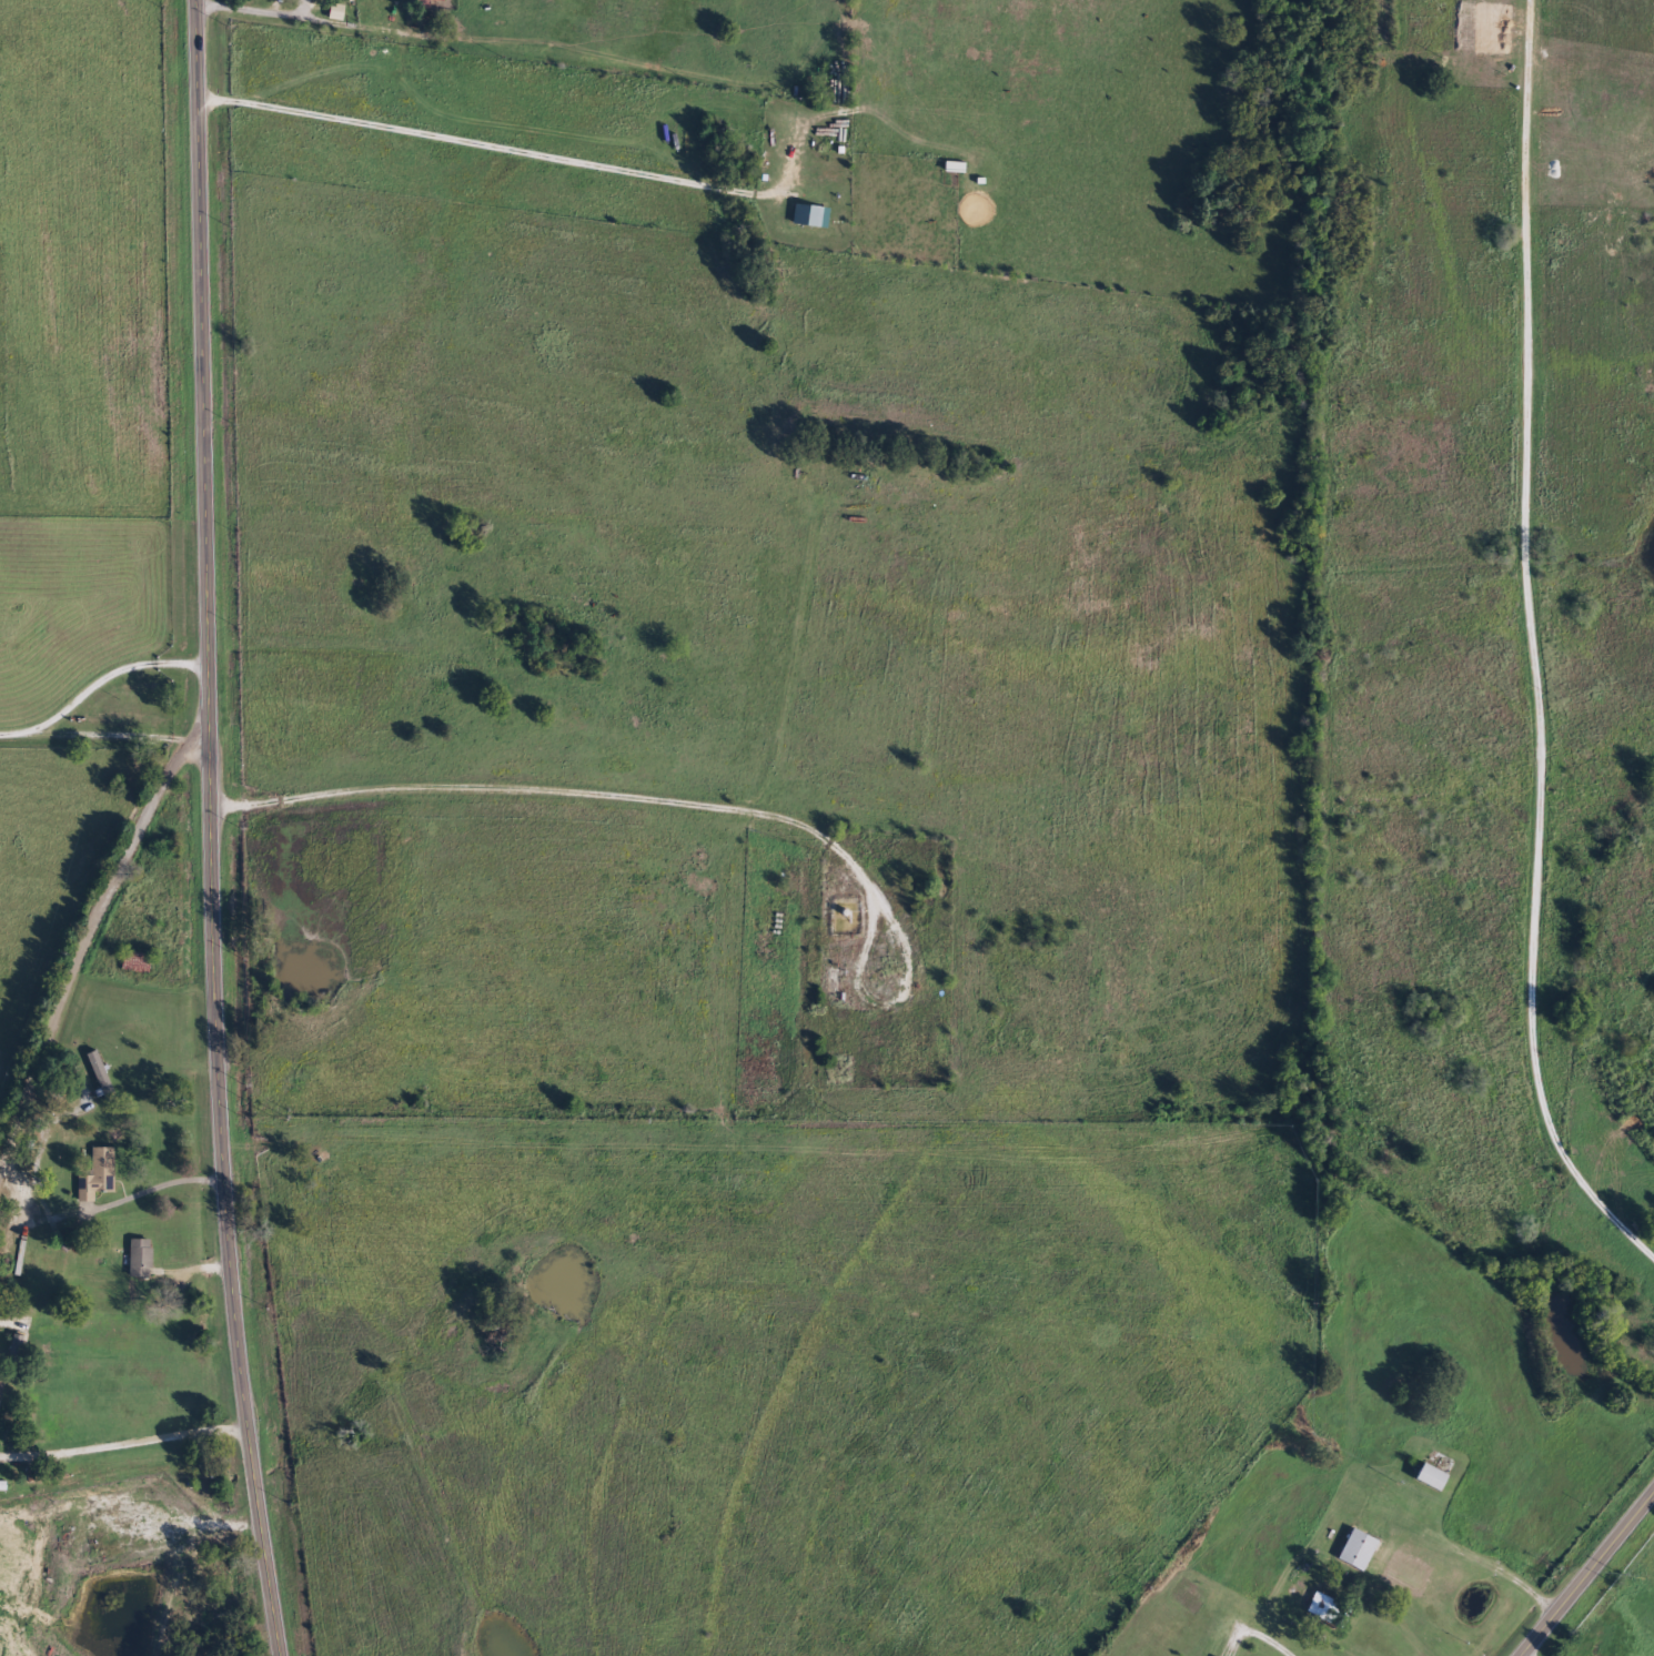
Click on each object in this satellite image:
building: (437, 0)
building: (340, 13)
road: (548, 49)
building: (810, 216)
road: (212, 829)
road: (75, 945)
building: (103, 1073)
building: (101, 1175)
building: (144, 1258)
building: (1, 1393)
building: (1435, 1477)
building: (4, 1486)
building: (1361, 1551)
road: (1586, 1573)

